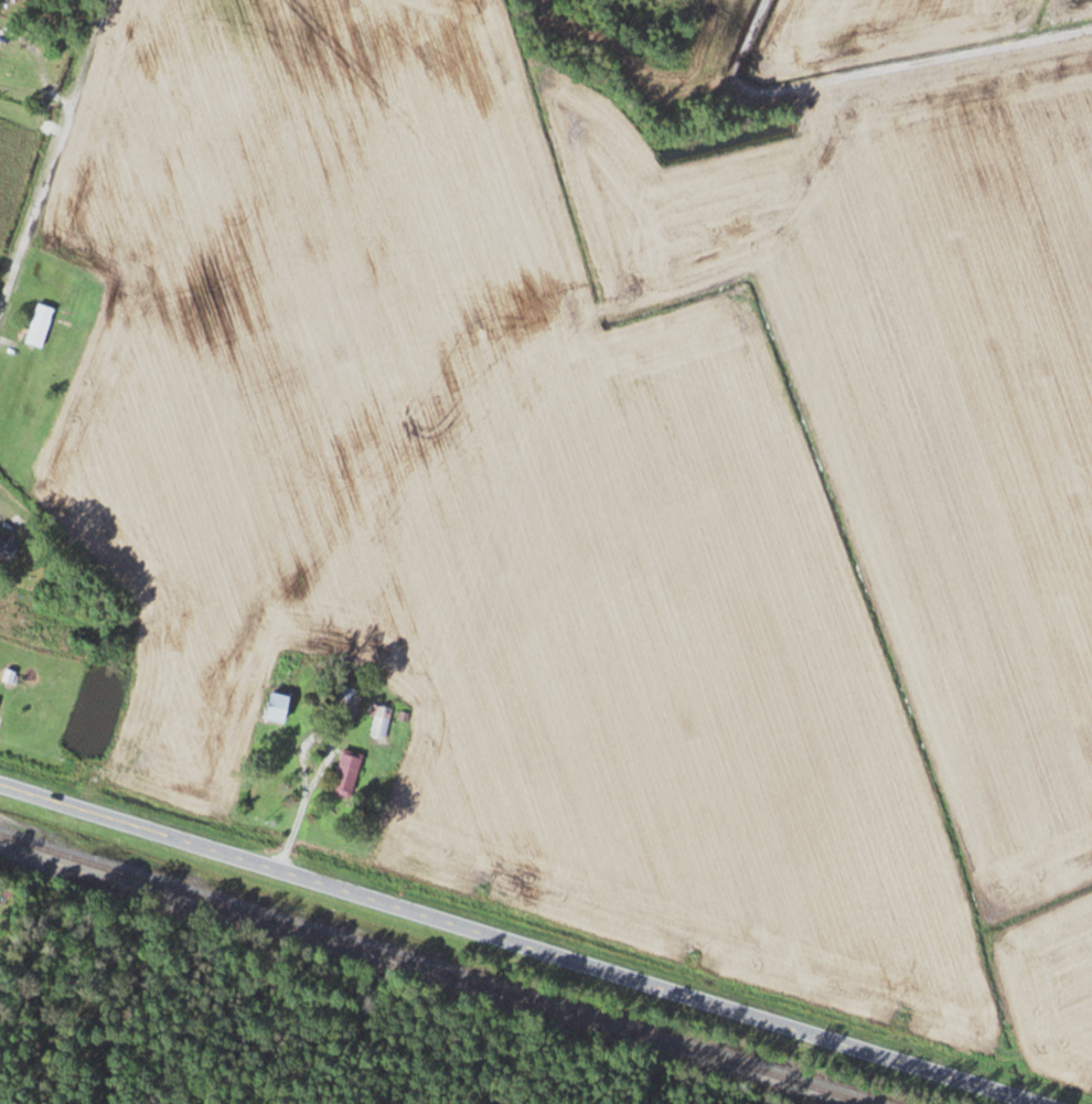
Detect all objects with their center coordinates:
road: (35, 94)
road: (46, 178)
building: (40, 325)
building: (8, 550)
building: (3, 601)
building: (280, 692)
building: (349, 704)
building: (382, 721)
building: (347, 774)
road: (517, 944)
railway: (437, 968)

